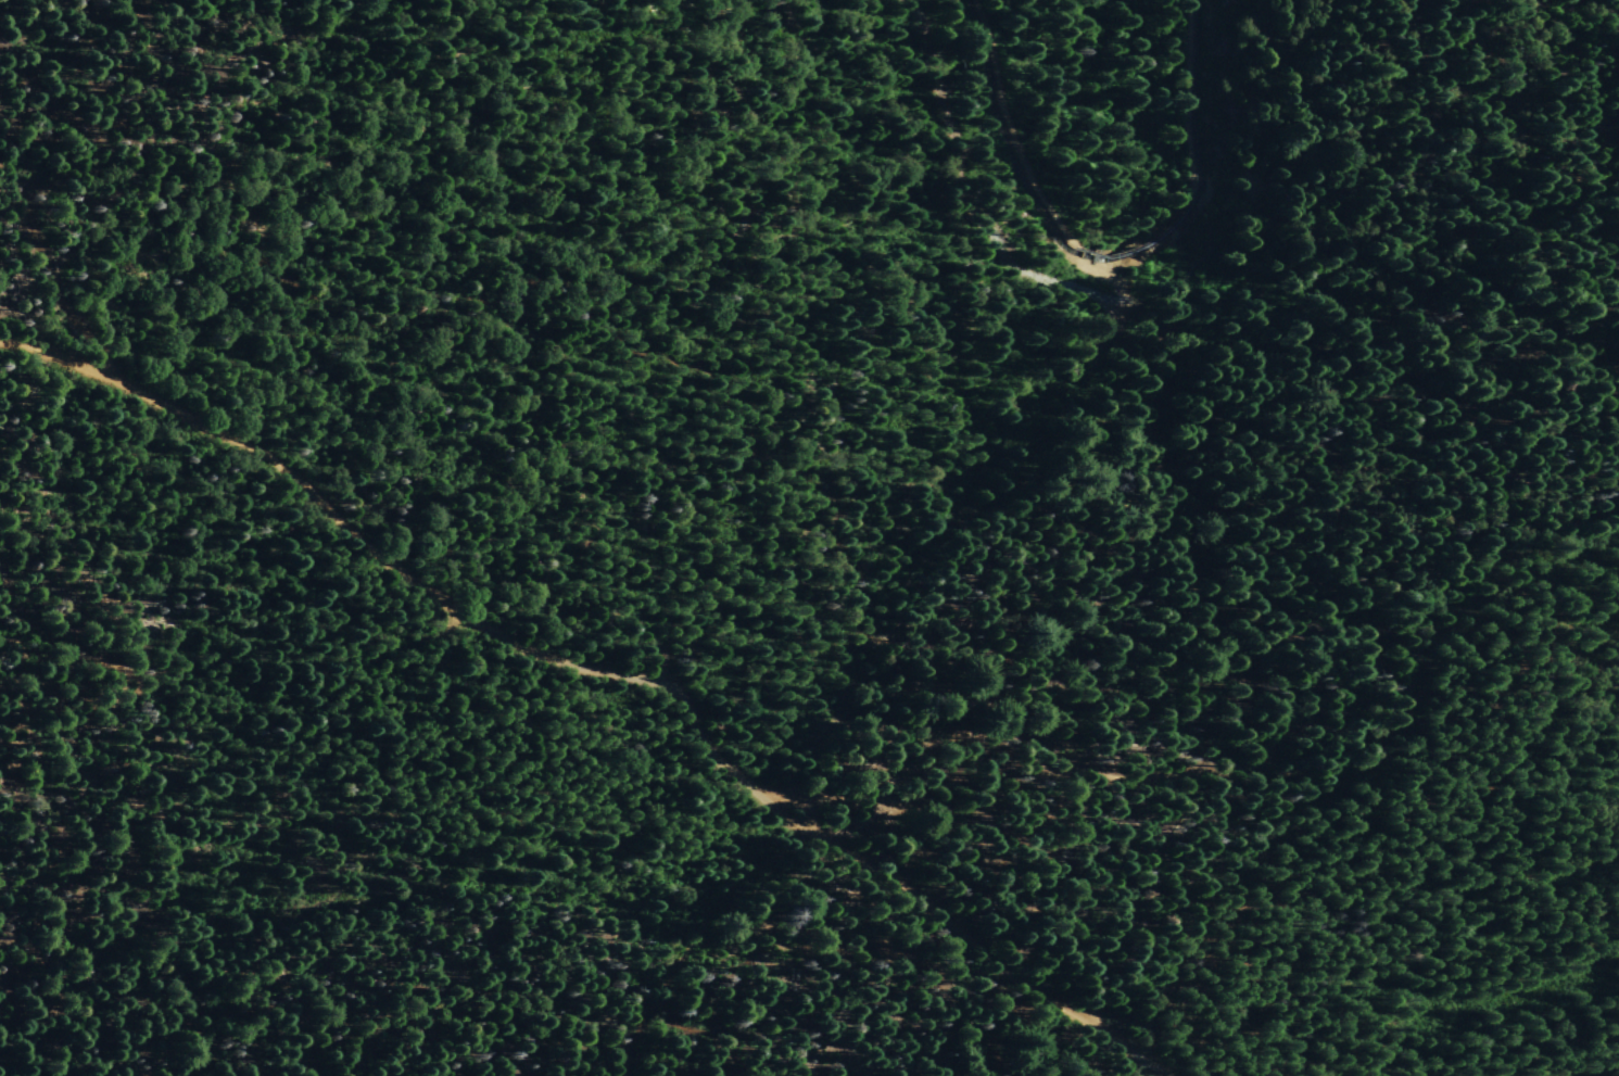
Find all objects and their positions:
road: (1224, 77)
road: (988, 638)
road: (605, 670)
road: (47, 902)
road: (724, 1010)
road: (403, 1045)

